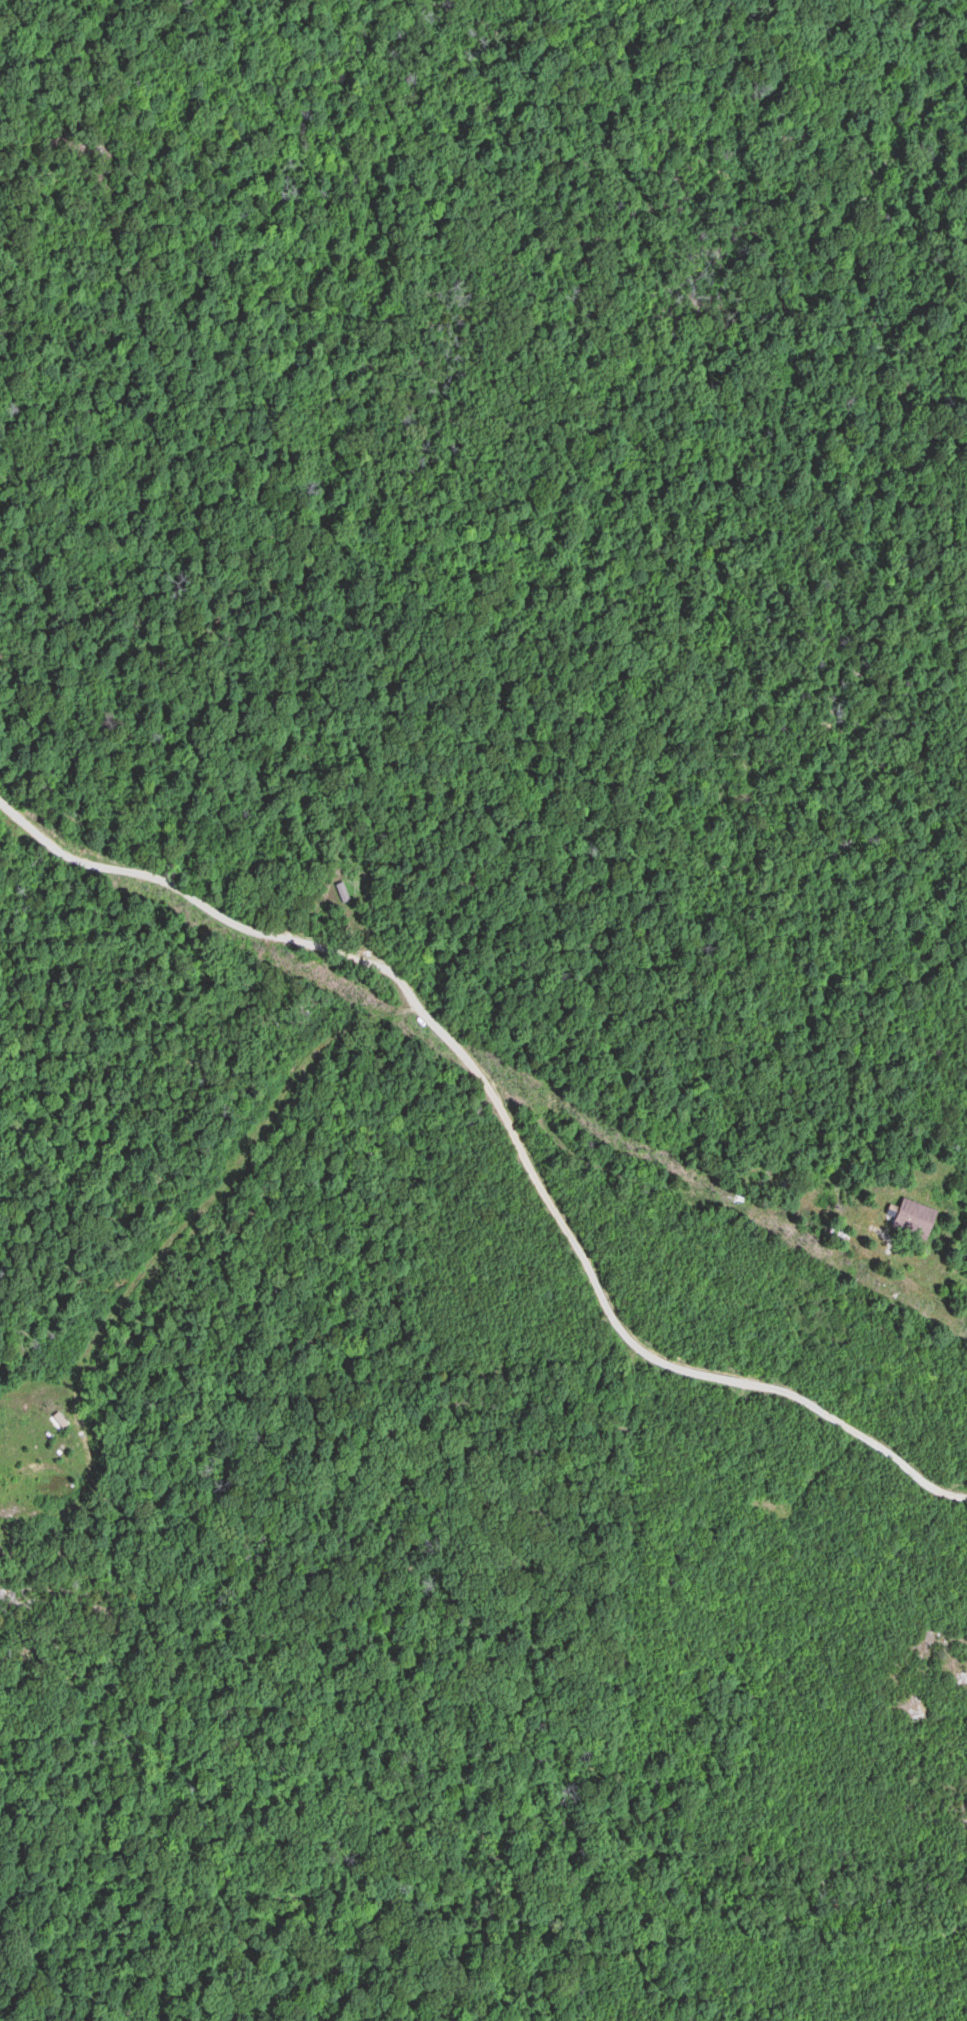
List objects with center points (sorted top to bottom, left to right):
building: (914, 1217)

